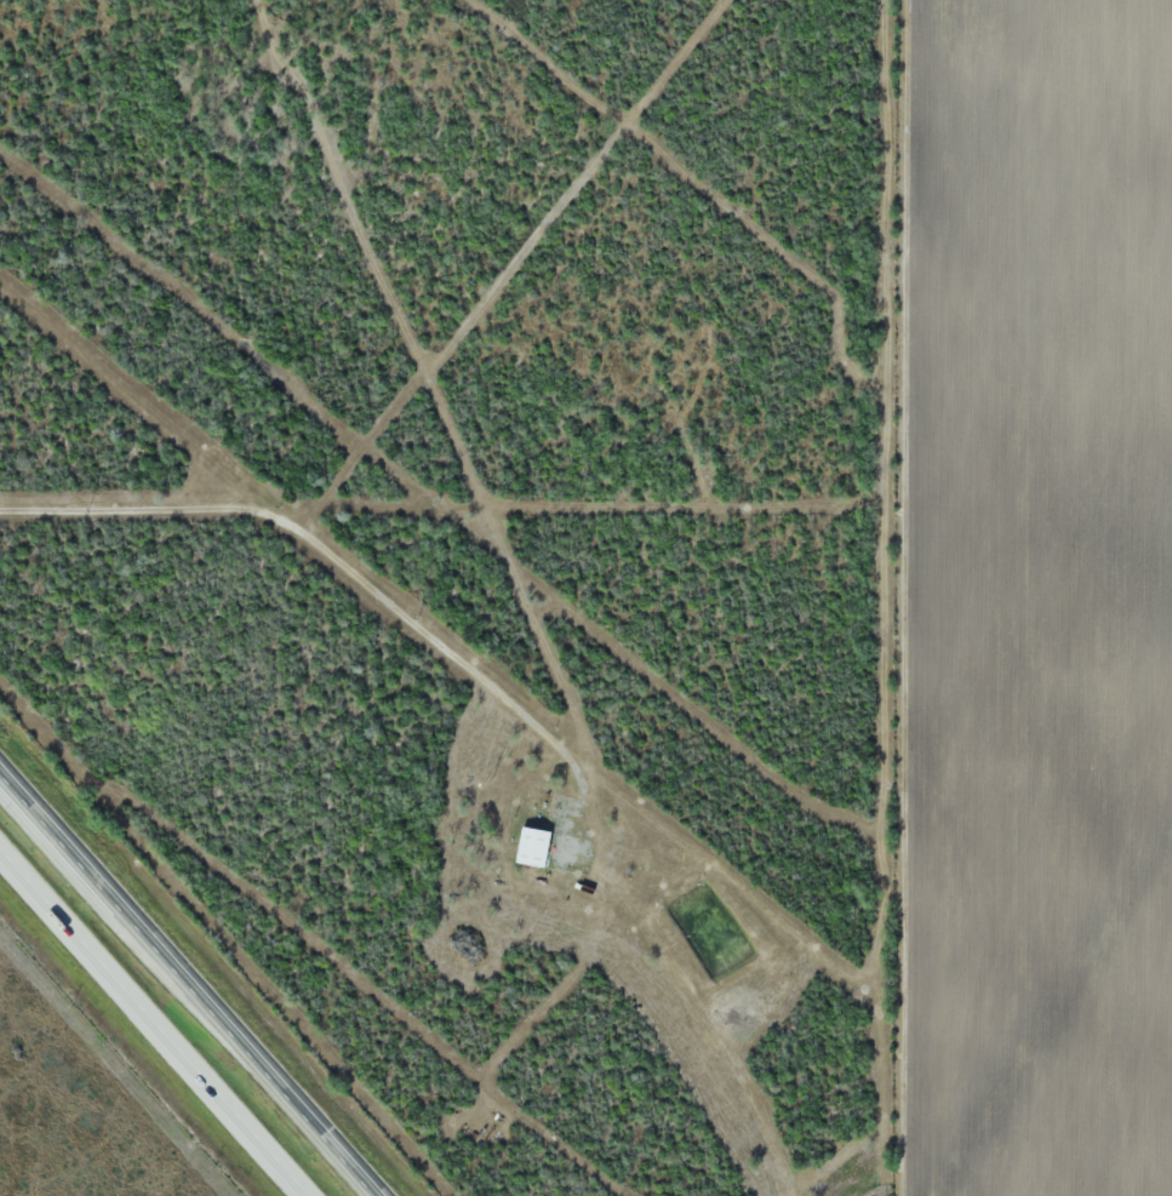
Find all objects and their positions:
road: (191, 978)
road: (151, 1024)

